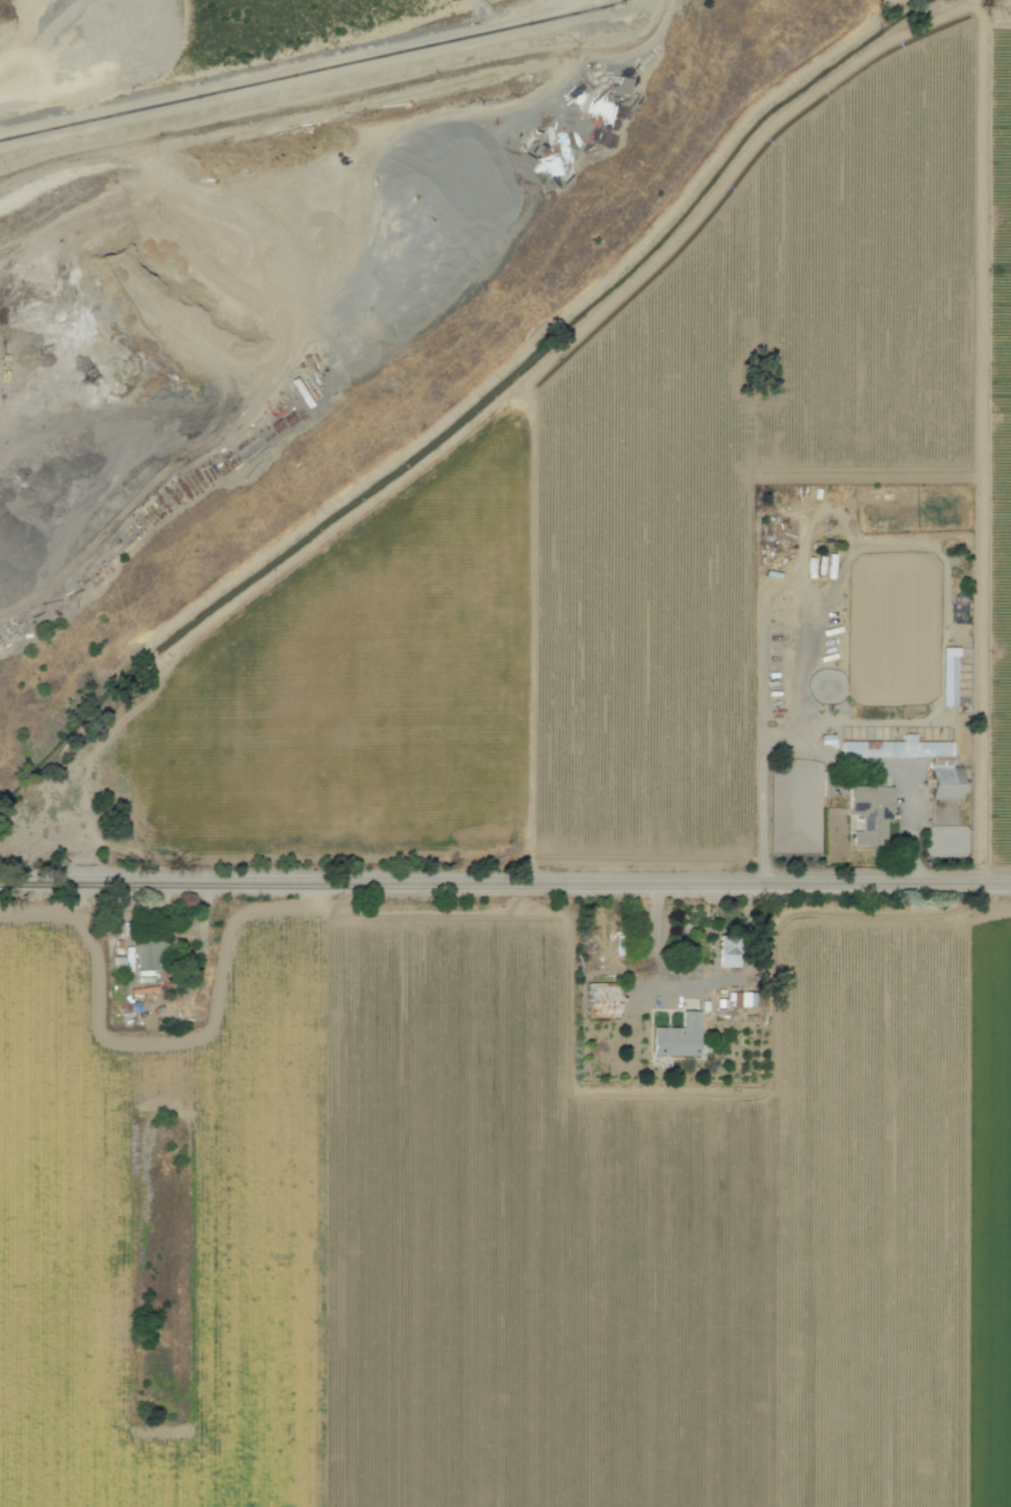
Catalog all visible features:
quarry: (249, 233)
building: (949, 677)
road: (823, 750)
building: (942, 762)
building: (871, 814)
road: (505, 885)
building: (729, 951)
building: (149, 954)
road: (711, 983)
building: (602, 1000)
building: (679, 1037)

